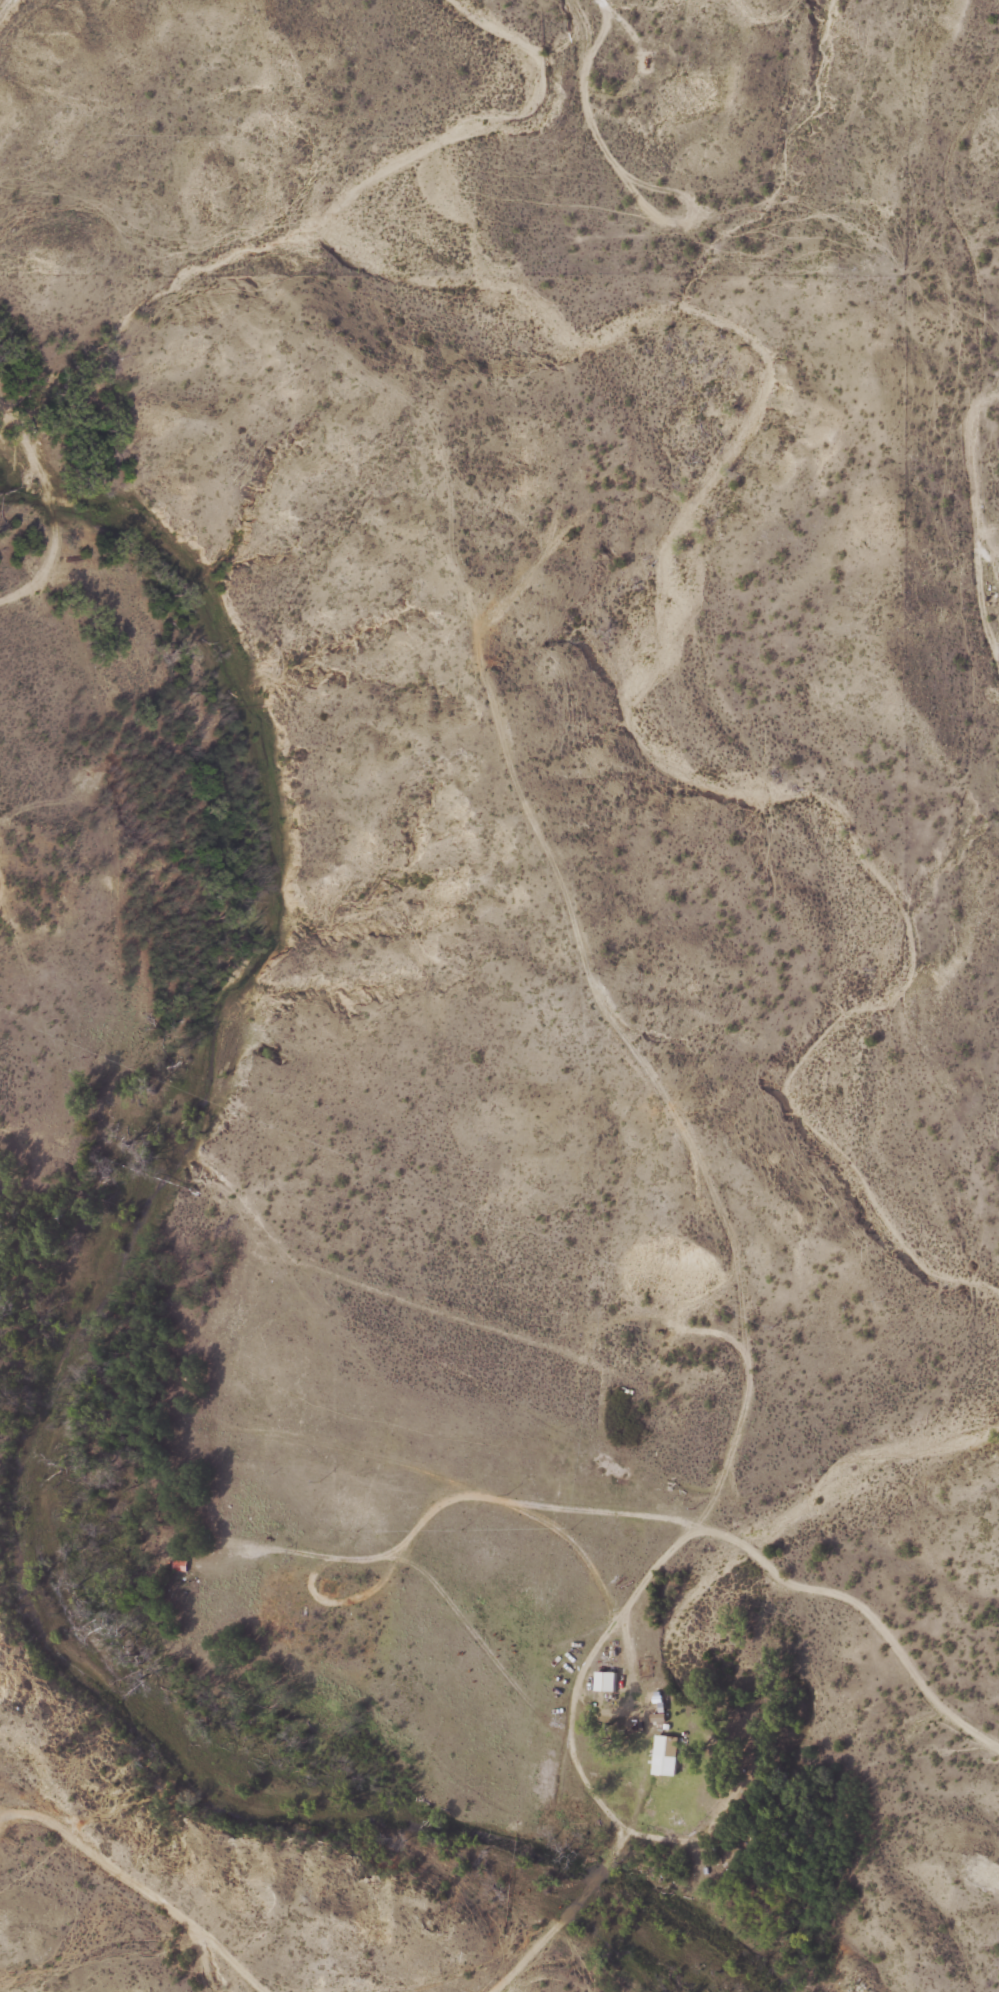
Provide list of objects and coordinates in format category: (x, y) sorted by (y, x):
building: (606, 1681)

